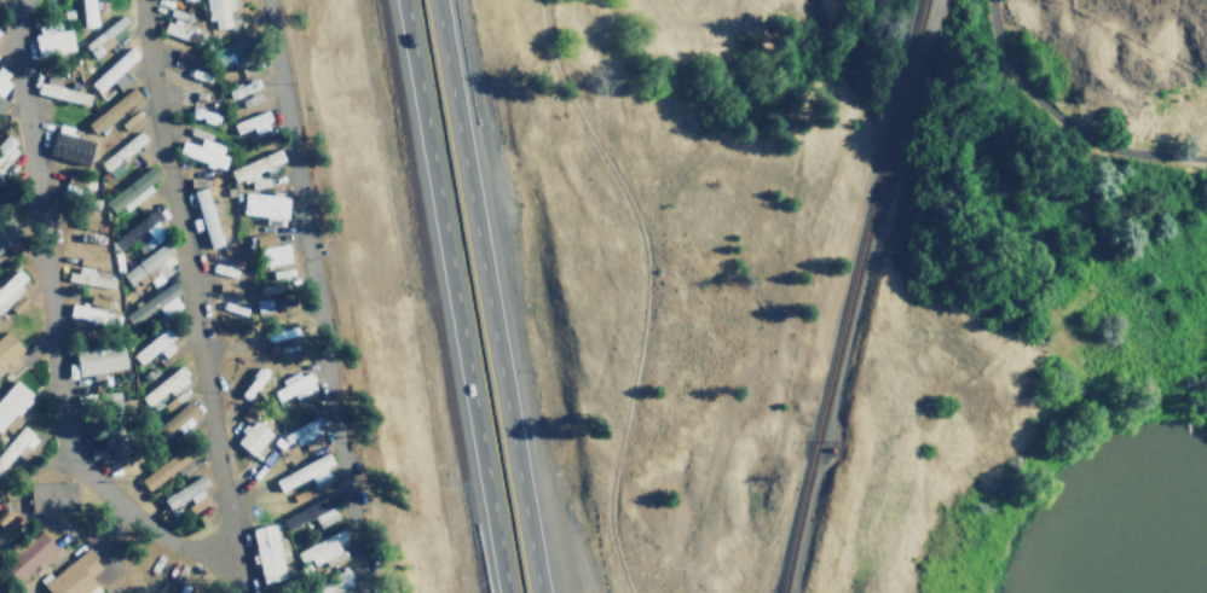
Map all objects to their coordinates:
building: (190, 0)
building: (218, 12)
building: (87, 13)
building: (105, 37)
building: (52, 40)
road: (837, 42)
building: (233, 51)
building: (112, 69)
building: (4, 79)
building: (115, 85)
building: (62, 93)
building: (1, 103)
building: (112, 110)
building: (253, 123)
road: (1063, 123)
building: (69, 146)
building: (203, 152)
building: (122, 153)
building: (255, 167)
building: (131, 192)
building: (264, 205)
building: (206, 219)
building: (155, 234)
building: (272, 250)
building: (148, 267)
building: (88, 279)
building: (11, 286)
railway: (851, 295)
road: (194, 296)
road: (317, 296)
road: (452, 296)
road: (487, 296)
building: (152, 306)
building: (262, 306)
building: (79, 312)
road: (52, 329)
building: (155, 348)
building: (7, 349)
building: (99, 359)
building: (295, 386)
building: (163, 388)
building: (12, 402)
building: (175, 420)
building: (112, 428)
building: (253, 438)
building: (167, 469)
building: (306, 473)
building: (185, 494)
building: (51, 498)
building: (310, 511)
building: (6, 525)
building: (322, 548)
building: (268, 552)
building: (29, 556)
building: (74, 576)
building: (343, 577)

